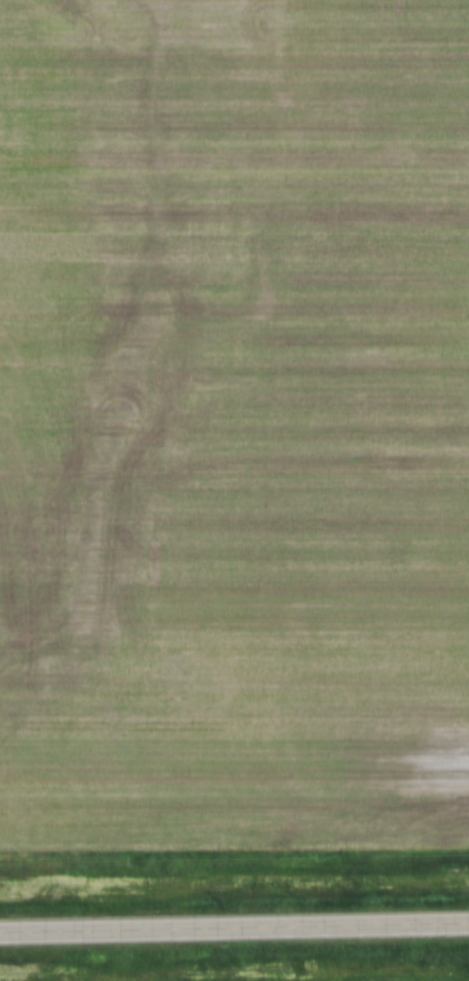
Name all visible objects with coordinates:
road: (234, 925)

